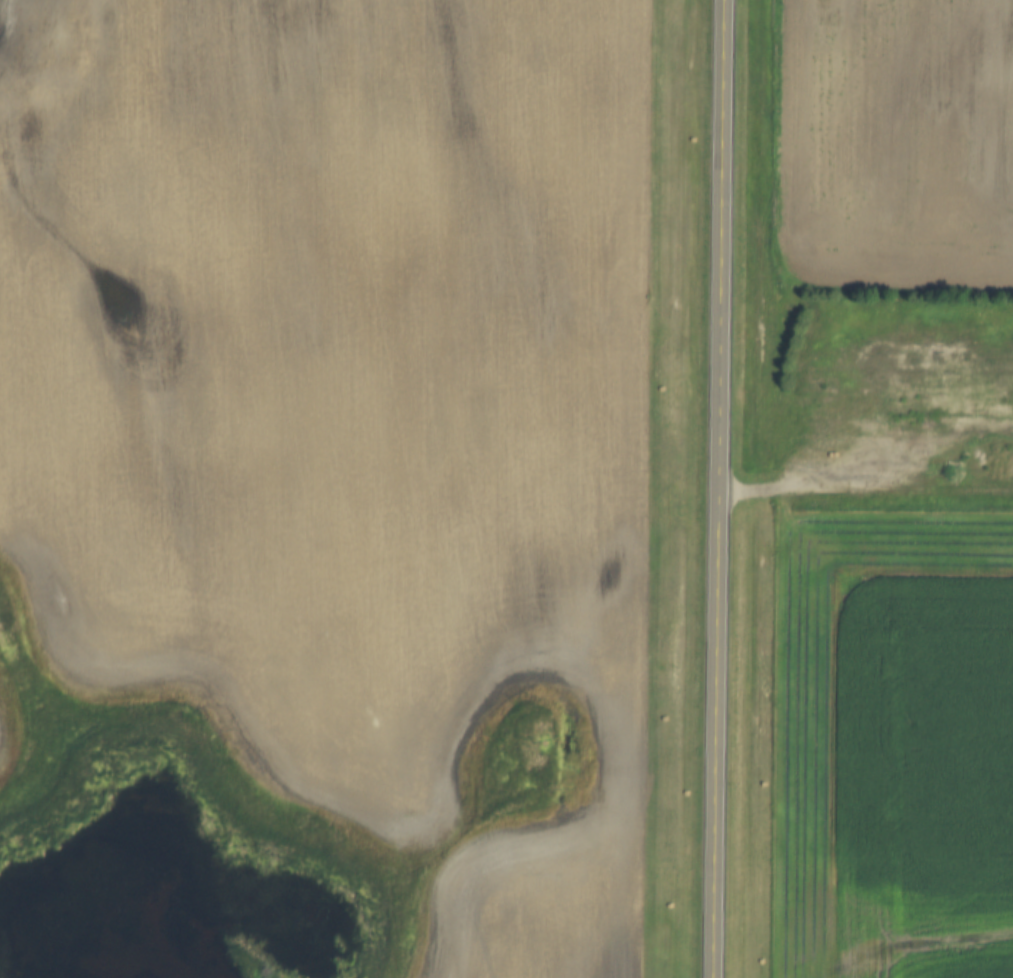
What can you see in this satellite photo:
road: (702, 488)

